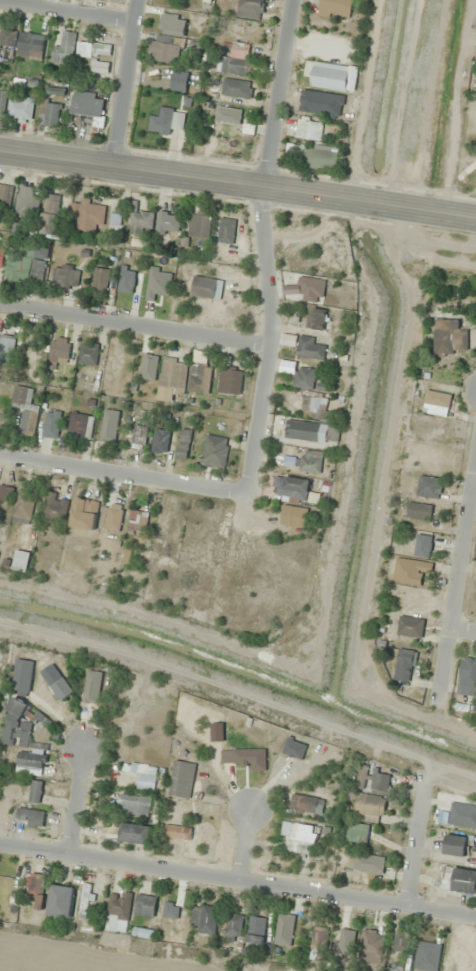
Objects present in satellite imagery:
building: (335, 8)
building: (249, 9)
road: (66, 11)
building: (7, 37)
building: (169, 39)
building: (30, 45)
building: (63, 49)
building: (94, 49)
building: (235, 59)
building: (100, 66)
building: (334, 76)
road: (122, 82)
building: (236, 87)
road: (282, 95)
building: (2, 98)
building: (87, 103)
building: (19, 108)
building: (48, 113)
building: (228, 115)
building: (166, 123)
building: (309, 129)
building: (321, 157)
road: (237, 185)
building: (5, 196)
building: (27, 203)
building: (87, 213)
building: (50, 215)
building: (141, 222)
building: (168, 222)
building: (199, 224)
building: (226, 230)
building: (1, 253)
building: (27, 263)
road: (269, 268)
building: (65, 276)
building: (99, 278)
building: (126, 279)
building: (162, 282)
building: (206, 287)
building: (311, 288)
building: (314, 318)
road: (134, 325)
building: (449, 337)
building: (6, 346)
building: (309, 348)
building: (58, 350)
building: (90, 354)
building: (149, 367)
building: (200, 373)
building: (173, 376)
building: (304, 377)
building: (230, 381)
building: (436, 402)
building: (315, 406)
building: (25, 408)
road: (257, 418)
building: (51, 423)
building: (80, 424)
building: (109, 425)
building: (311, 430)
building: (138, 436)
building: (160, 441)
building: (183, 445)
building: (214, 451)
building: (305, 461)
road: (122, 473)
building: (428, 486)
building: (290, 487)
building: (6, 493)
building: (23, 505)
building: (54, 508)
building: (419, 510)
building: (84, 513)
building: (293, 515)
building: (110, 516)
building: (137, 520)
building: (168, 522)
building: (422, 545)
building: (21, 560)
building: (409, 570)
road: (459, 589)
building: (475, 591)
building: (410, 626)
road: (464, 631)
building: (403, 664)
building: (467, 671)
building: (22, 675)
building: (55, 682)
building: (92, 686)
building: (16, 725)
building: (31, 760)
building: (142, 773)
building: (181, 778)
building: (372, 779)
building: (35, 791)
road: (76, 801)
building: (305, 804)
building: (134, 805)
building: (369, 805)
building: (462, 815)
building: (31, 816)
building: (177, 831)
building: (356, 832)
building: (135, 833)
building: (300, 836)
building: (455, 845)
road: (244, 847)
road: (418, 848)
building: (368, 863)
building: (458, 879)
road: (237, 881)
building: (34, 883)
building: (85, 900)
building: (60, 901)
building: (144, 905)
building: (117, 911)
building: (203, 918)
building: (233, 928)
building: (284, 929)
building: (145, 932)
building: (255, 934)
building: (346, 941)
building: (401, 941)
building: (316, 943)
building: (371, 945)
building: (427, 955)

